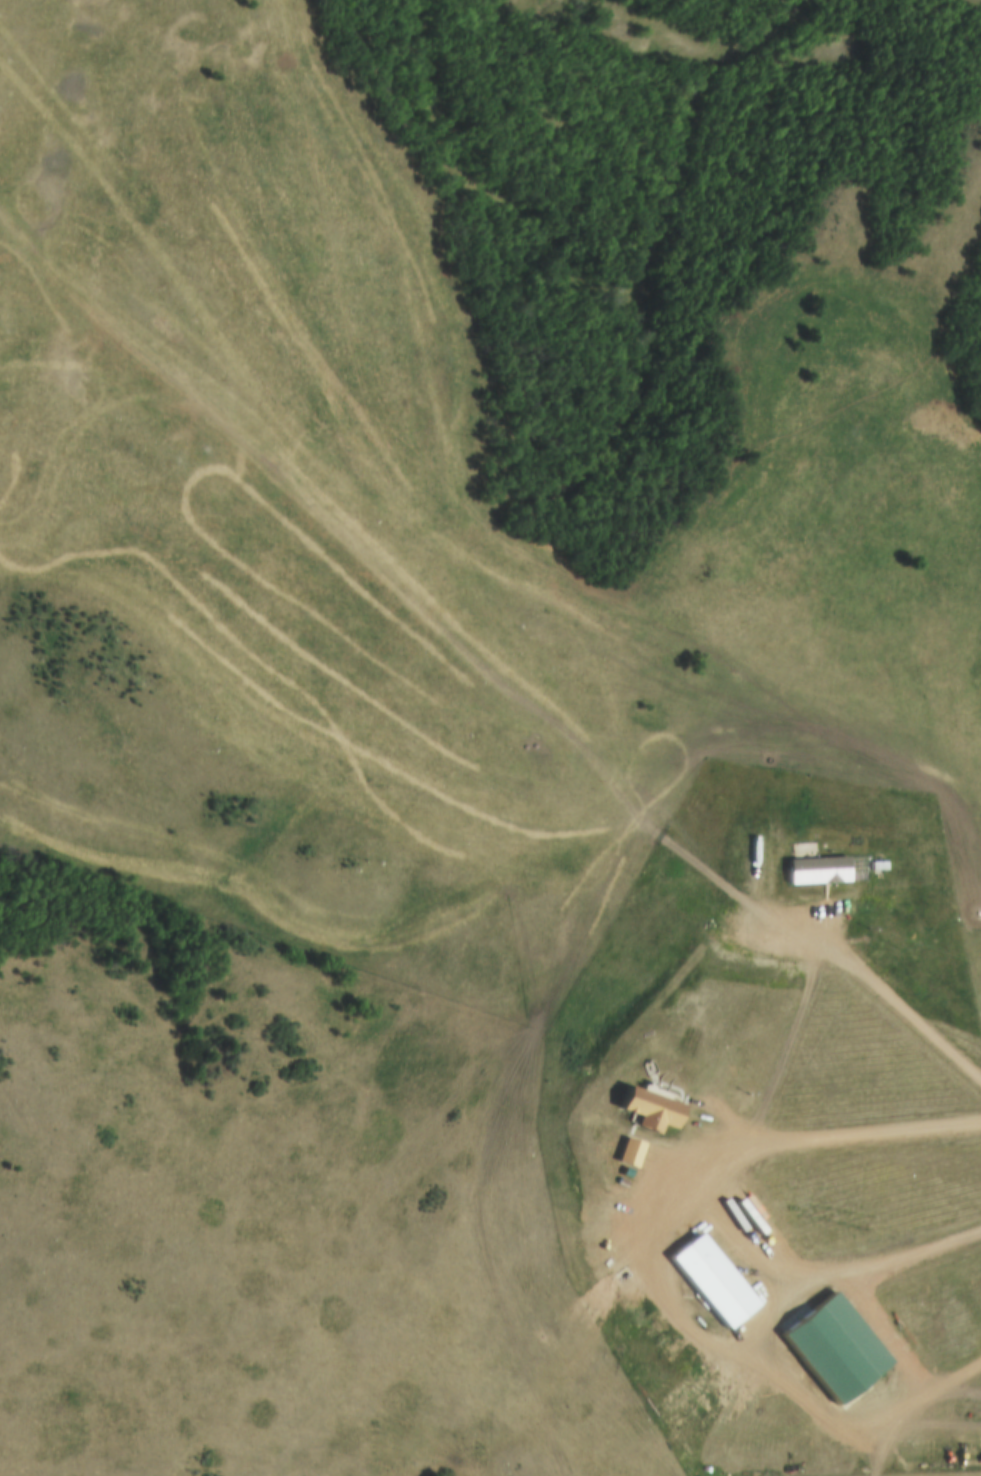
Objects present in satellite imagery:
road: (342, 314)
road: (374, 567)
building: (872, 866)
building: (811, 869)
road: (876, 984)
building: (644, 1113)
road: (801, 1134)
building: (624, 1155)
building: (707, 1284)

